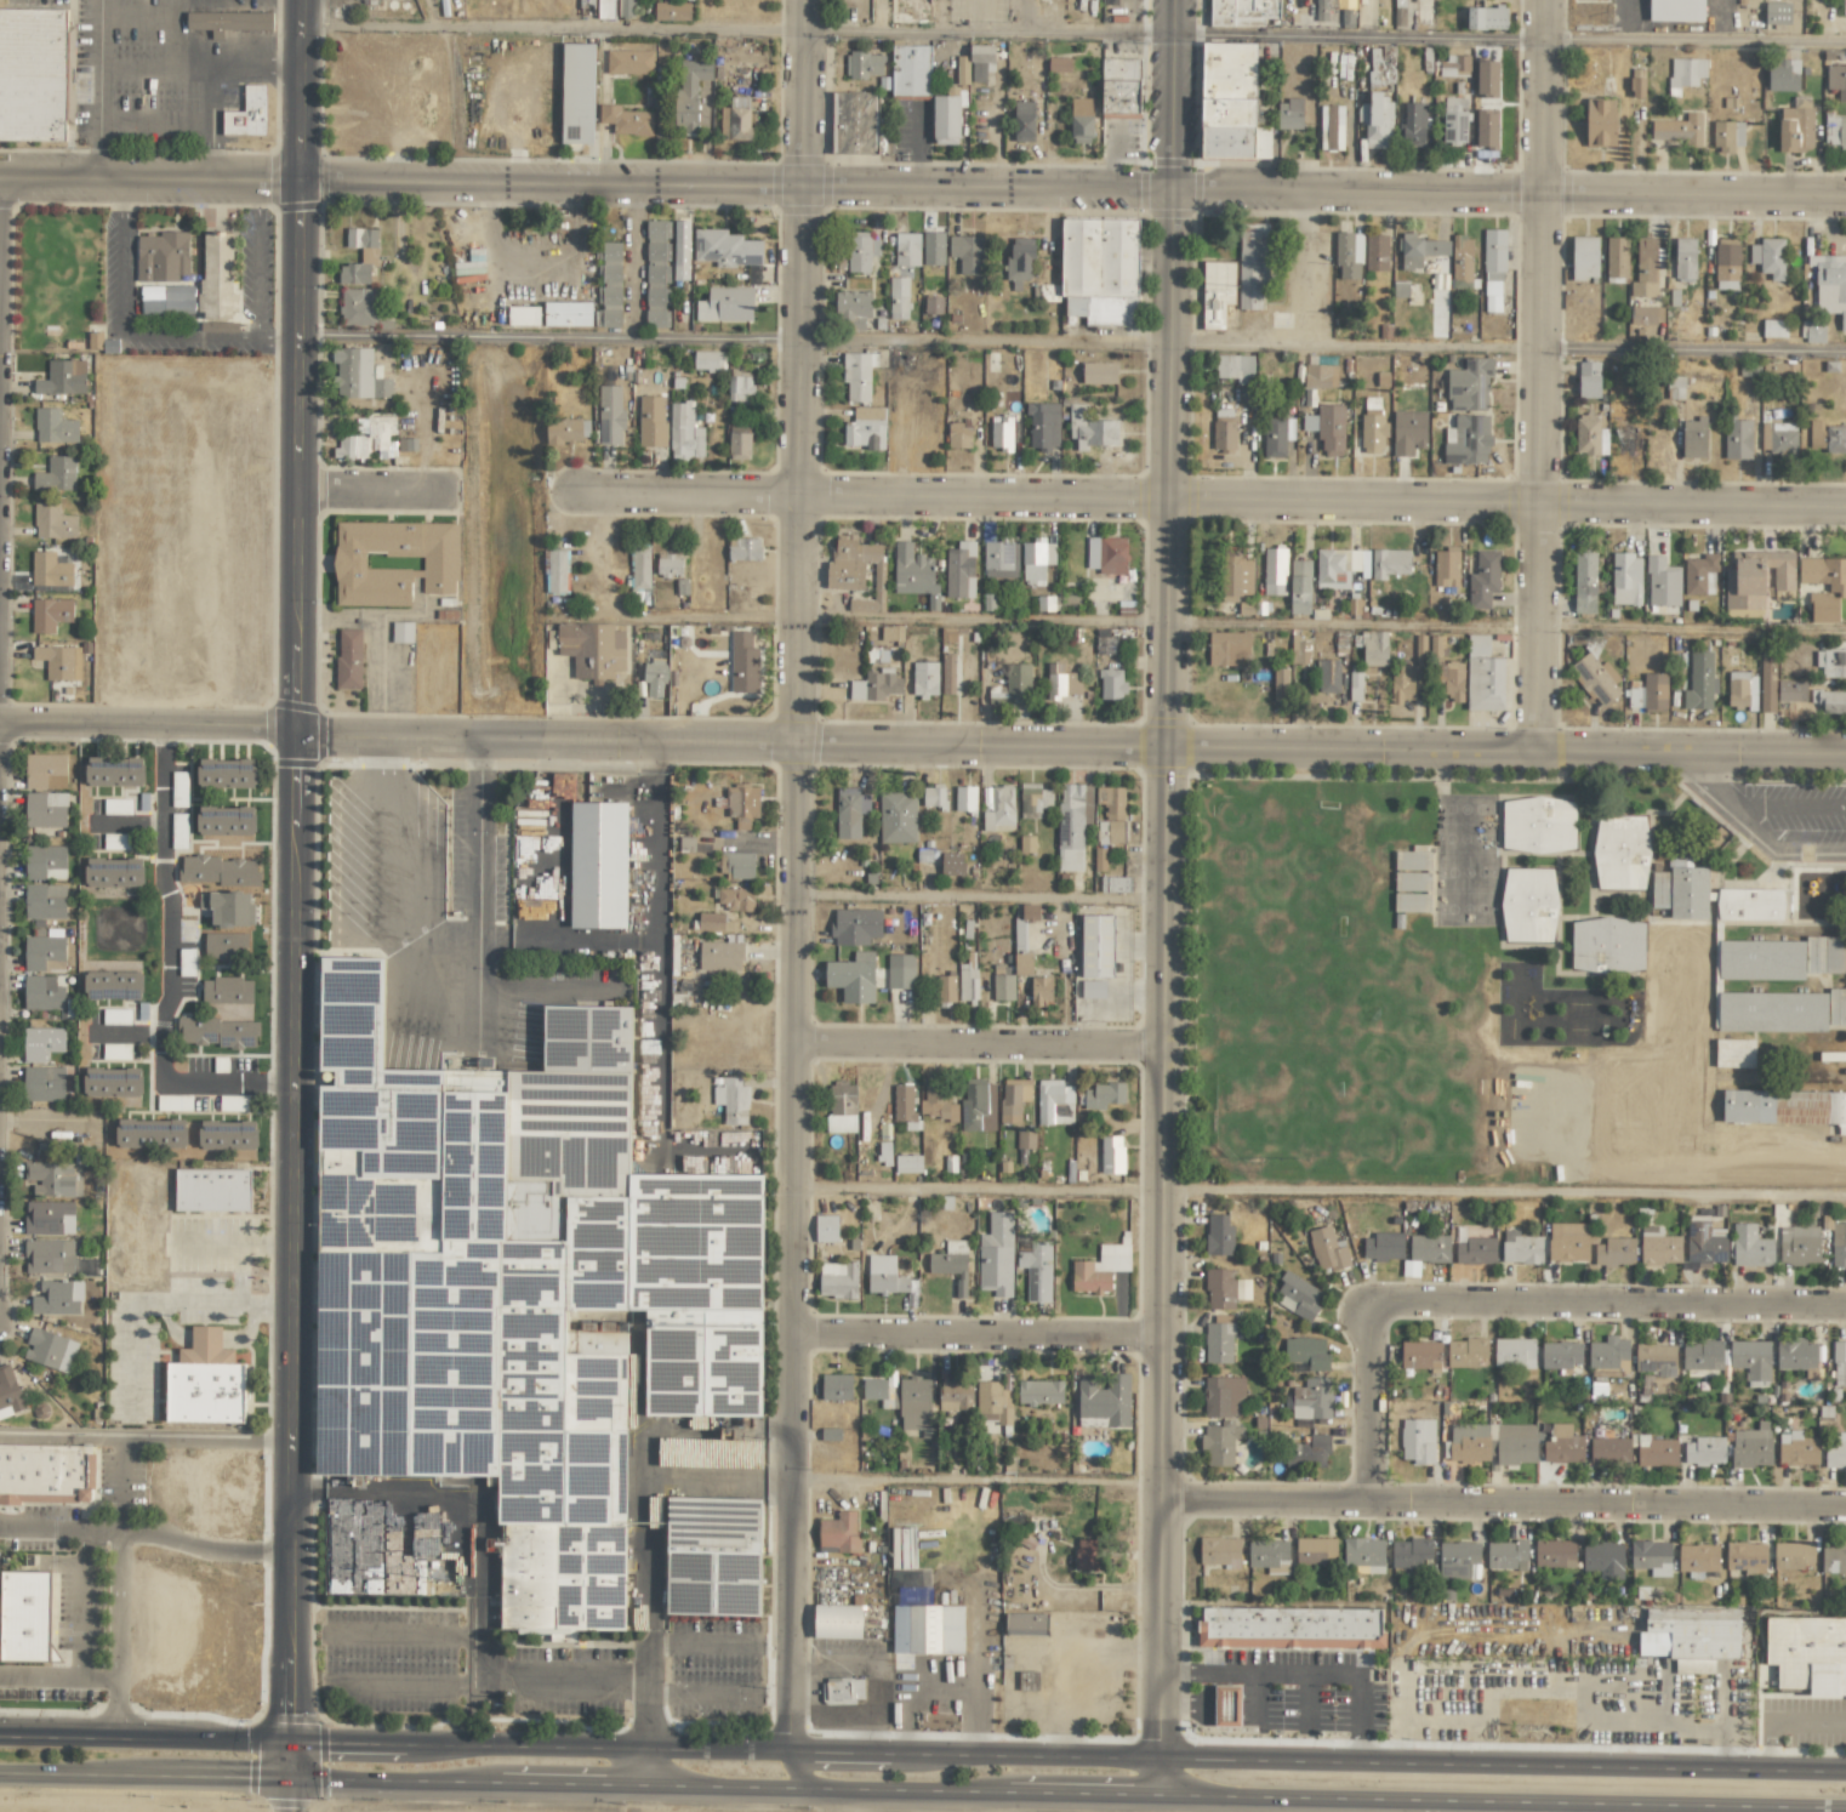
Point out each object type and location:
building: (1842, 7)
building: (605, 8)
building: (626, 8)
building: (1675, 10)
building: (672, 11)
building: (1242, 12)
building: (1348, 13)
building: (1777, 13)
building: (1486, 17)
building: (228, 22)
road: (554, 25)
road: (1324, 35)
building: (629, 62)
road: (155, 63)
building: (980, 63)
road: (230, 64)
building: (864, 64)
building: (1059, 64)
building: (1381, 64)
building: (1453, 65)
building: (962, 69)
building: (910, 72)
building: (1685, 73)
building: (33, 74)
building: (1783, 74)
building: (1487, 79)
building: (1836, 80)
building: (1119, 87)
building: (1636, 87)
building: (689, 92)
building: (577, 93)
road: (98, 95)
building: (739, 101)
building: (1230, 103)
building: (247, 113)
building: (1289, 114)
road: (192, 118)
building: (946, 119)
building: (1377, 119)
building: (626, 120)
building: (1081, 120)
building: (1454, 120)
building: (853, 121)
building: (1022, 121)
building: (735, 122)
building: (1600, 122)
building: (1413, 125)
building: (1331, 127)
building: (1486, 129)
building: (1795, 129)
building: (1679, 130)
building: (1835, 131)
building: (1726, 135)
road: (922, 187)
building: (657, 241)
building: (680, 247)
building: (933, 247)
building: (725, 249)
building: (907, 249)
building: (1418, 249)
building: (860, 251)
building: (611, 252)
building: (965, 252)
building: (1375, 252)
building: (369, 255)
building: (1348, 255)
building: (161, 256)
building: (1616, 256)
building: (1584, 257)
building: (1768, 257)
building: (1685, 260)
building: (1019, 261)
building: (1462, 261)
building: (1726, 263)
building: (1252, 264)
road: (258, 266)
road: (1301, 268)
building: (1645, 268)
building: (1100, 269)
building: (1493, 269)
building: (609, 274)
building: (217, 275)
building: (1830, 285)
building: (1219, 294)
building: (656, 295)
building: (898, 297)
building: (725, 304)
building: (933, 304)
building: (853, 306)
building: (357, 307)
building: (609, 307)
building: (566, 314)
building: (1646, 314)
building: (523, 315)
building: (1773, 327)
building: (1811, 330)
road: (146, 334)
road: (553, 336)
road: (985, 340)
road: (1505, 348)
building: (708, 360)
building: (1235, 367)
building: (1749, 370)
building: (1099, 372)
building: (358, 375)
building: (1320, 375)
building: (62, 377)
road: (1543, 377)
building: (1588, 378)
building: (1469, 384)
building: (739, 386)
building: (1675, 387)
building: (1223, 415)
building: (610, 416)
building: (651, 421)
building: (53, 426)
building: (1043, 426)
building: (1327, 427)
building: (865, 428)
building: (1089, 428)
building: (568, 429)
building: (1408, 432)
building: (684, 433)
building: (1001, 433)
building: (1372, 433)
building: (958, 435)
building: (1276, 435)
building: (1590, 435)
building: (1224, 437)
building: (1825, 437)
building: (369, 438)
building: (1693, 438)
building: (1779, 438)
building: (1737, 439)
building: (1468, 440)
building: (739, 443)
building: (1625, 443)
building: (56, 474)
road: (380, 491)
road: (1202, 505)
building: (53, 522)
building: (745, 548)
building: (1106, 554)
building: (999, 559)
building: (393, 560)
building: (1036, 560)
building: (1389, 563)
building: (668, 564)
building: (639, 566)
building: (1335, 566)
building: (1446, 566)
building: (50, 570)
building: (555, 570)
building: (856, 570)
building: (959, 570)
building: (913, 571)
building: (1274, 571)
building: (1700, 574)
building: (1236, 575)
building: (1756, 577)
building: (1625, 579)
building: (1483, 580)
building: (1584, 582)
building: (1662, 582)
building: (1299, 586)
building: (1836, 587)
building: (50, 614)
road: (1354, 622)
building: (401, 631)
building: (1436, 645)
building: (1104, 648)
building: (1229, 648)
building: (1374, 648)
building: (592, 650)
building: (1298, 650)
road: (369, 651)
building: (348, 659)
building: (56, 661)
building: (742, 662)
building: (1831, 662)
building: (947, 673)
building: (1328, 676)
building: (1483, 676)
building: (654, 678)
building: (924, 678)
building: (1595, 678)
building: (1448, 679)
building: (1061, 682)
building: (1699, 682)
building: (1767, 682)
building: (1018, 683)
building: (1111, 683)
building: (1403, 683)
building: (1281, 684)
building: (876, 685)
building: (1355, 685)
building: (1742, 690)
building: (1788, 690)
building: (1648, 693)
building: (1829, 700)
road: (150, 729)
road: (1073, 756)
building: (45, 770)
building: (114, 771)
building: (226, 774)
building: (933, 796)
building: (964, 798)
building: (1032, 799)
building: (1111, 800)
building: (742, 804)
building: (116, 805)
building: (997, 805)
building: (45, 809)
building: (849, 811)
building: (896, 816)
building: (226, 821)
building: (1072, 824)
building: (1538, 825)
building: (1109, 832)
road: (1754, 832)
building: (1026, 844)
building: (1620, 851)
building: (1411, 860)
building: (45, 861)
building: (952, 864)
building: (598, 865)
building: (736, 865)
building: (216, 870)
building: (113, 872)
road: (802, 876)
building: (1115, 883)
road: (297, 889)
building: (1680, 889)
building: (736, 899)
road: (1166, 899)
building: (45, 901)
building: (1411, 902)
building: (1749, 904)
building: (1528, 905)
building: (228, 908)
building: (1027, 911)
building: (714, 922)
building: (855, 925)
building: (1096, 945)
building: (1607, 945)
building: (224, 946)
building: (44, 953)
building: (719, 956)
building: (1778, 958)
building: (1022, 963)
road: (169, 970)
building: (900, 970)
building: (853, 976)
building: (967, 982)
building: (1003, 982)
building: (113, 985)
building: (945, 988)
building: (1093, 988)
building: (227, 990)
building: (1041, 990)
building: (42, 992)
road: (444, 992)
building: (1836, 1007)
building: (1771, 1012)
building: (115, 1016)
building: (217, 1032)
building: (41, 1043)
building: (115, 1050)
building: (1733, 1053)
road: (984, 1054)
building: (113, 1082)
building: (42, 1083)
building: (1101, 1095)
building: (1013, 1098)
building: (731, 1099)
building: (902, 1101)
building: (936, 1101)
building: (173, 1102)
building: (1054, 1102)
building: (233, 1104)
building: (978, 1106)
building: (841, 1107)
building: (1784, 1107)
building: (498, 1111)
building: (150, 1133)
building: (227, 1135)
building: (1025, 1138)
building: (1111, 1155)
building: (907, 1163)
building: (55, 1178)
road: (1509, 1187)
building: (212, 1189)
road: (986, 1192)
building: (49, 1218)
building: (826, 1229)
building: (1218, 1235)
building: (1567, 1241)
building: (1703, 1243)
road: (230, 1244)
building: (1799, 1244)
building: (1838, 1244)
building: (1383, 1246)
building: (1658, 1247)
building: (1750, 1247)
building: (1429, 1248)
building: (1520, 1248)
building: (1327, 1249)
building: (1475, 1250)
building: (1614, 1252)
building: (996, 1254)
building: (49, 1255)
building: (951, 1264)
building: (1036, 1269)
building: (1099, 1269)
road: (239, 1275)
building: (884, 1275)
building: (838, 1280)
building: (1224, 1288)
building: (1298, 1297)
building: (57, 1298)
road: (164, 1303)
road: (1510, 1317)
building: (1218, 1340)
building: (705, 1349)
road: (984, 1349)
building: (49, 1350)
building: (1306, 1351)
building: (1466, 1352)
building: (1514, 1352)
building: (1607, 1352)
building: (1419, 1355)
building: (1560, 1355)
building: (1700, 1355)
building: (1796, 1356)
building: (1656, 1358)
building: (1750, 1358)
building: (1839, 1363)
building: (204, 1381)
building: (836, 1386)
building: (8, 1391)
building: (878, 1391)
building: (1039, 1392)
building: (956, 1395)
building: (1223, 1396)
building: (1311, 1398)
building: (993, 1402)
building: (1104, 1402)
building: (915, 1404)
road: (700, 1434)
road: (146, 1436)
building: (1417, 1440)
building: (1220, 1442)
building: (1492, 1442)
building: (1562, 1445)
building: (1751, 1446)
building: (740, 1448)
building: (1796, 1448)
building: (1609, 1449)
building: (1704, 1449)
building: (1656, 1451)
building: (1307, 1452)
building: (1836, 1452)
building: (46, 1474)
road: (981, 1478)
road: (116, 1482)
road: (1506, 1514)
building: (838, 1533)
building: (432, 1540)
road: (651, 1544)
road: (203, 1548)
building: (1314, 1550)
building: (1218, 1551)
building: (1267, 1552)
building: (1363, 1552)
building: (1554, 1552)
building: (1087, 1554)
building: (1411, 1554)
building: (337, 1555)
building: (1505, 1555)
building: (1791, 1555)
building: (1651, 1557)
building: (1745, 1557)
building: (1457, 1559)
building: (1603, 1559)
building: (1697, 1559)
building: (1833, 1559)
road: (115, 1574)
building: (401, 1575)
building: (543, 1577)
road: (81, 1603)
building: (24, 1616)
building: (837, 1620)
building: (1025, 1623)
building: (1289, 1628)
building: (925, 1631)
building: (1690, 1634)
road: (452, 1636)
building: (1807, 1653)
road: (1306, 1669)
road: (870, 1673)
road: (57, 1677)
building: (1027, 1680)
road: (405, 1686)
road: (559, 1686)
building: (842, 1688)
road: (1253, 1694)
road: (1307, 1699)
road: (1184, 1704)
building: (1226, 1705)
road: (1782, 1722)
traffic signals: (289, 1744)
road: (922, 1754)
road: (794, 1777)
traffic signals: (290, 1779)
road: (922, 1791)
road: (289, 1795)
road: (1534, 1807)

